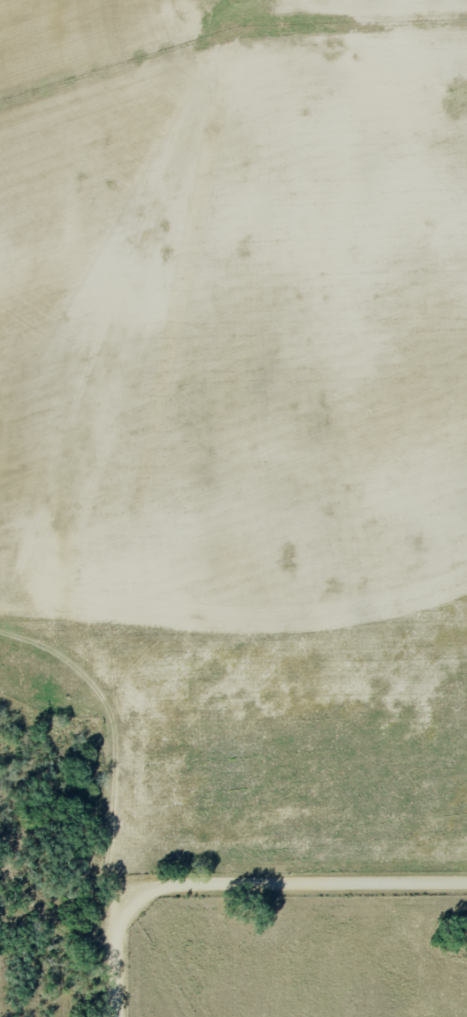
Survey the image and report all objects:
road: (237, 884)

